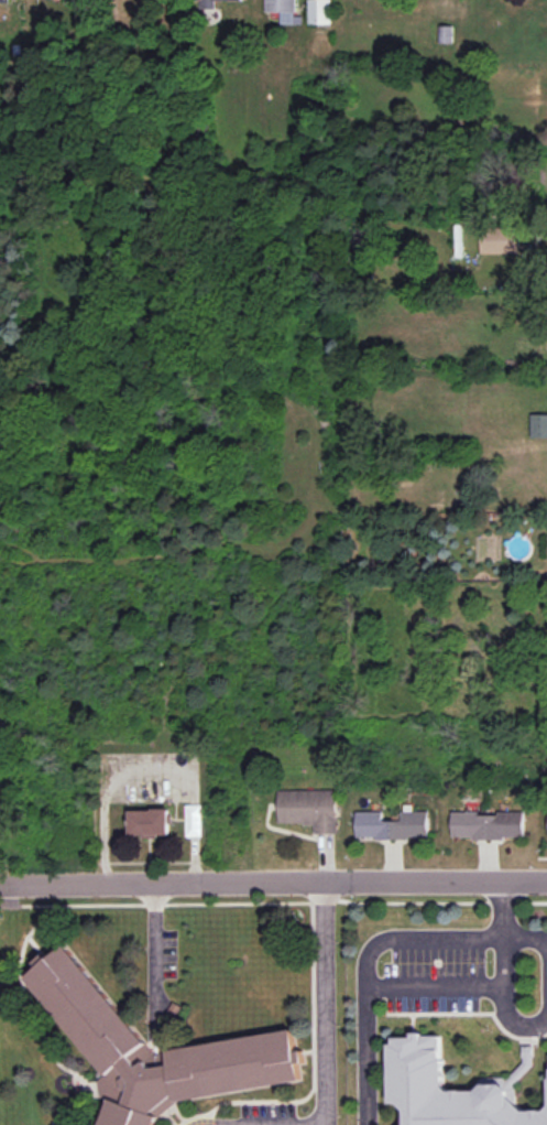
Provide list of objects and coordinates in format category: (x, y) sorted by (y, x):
building: (3, 0)
building: (209, 3)
building: (284, 10)
building: (319, 11)
building: (445, 34)
building: (500, 239)
building: (538, 425)
building: (308, 808)
building: (149, 822)
building: (392, 824)
building: (488, 824)
road: (273, 883)
road: (382, 944)
road: (526, 944)
road: (153, 960)
road: (457, 989)
road: (321, 1004)
road: (516, 1024)
building: (105, 1039)
building: (444, 1091)

